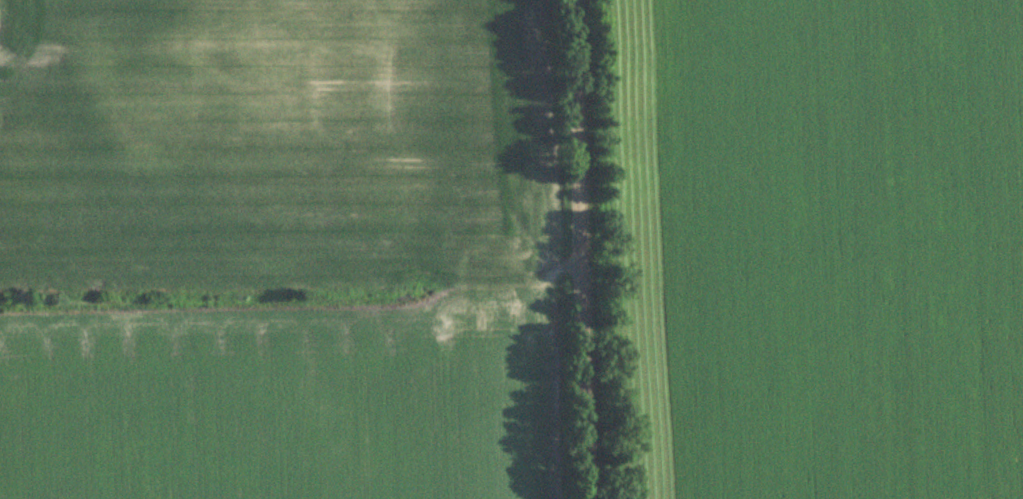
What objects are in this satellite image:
road: (578, 249)

